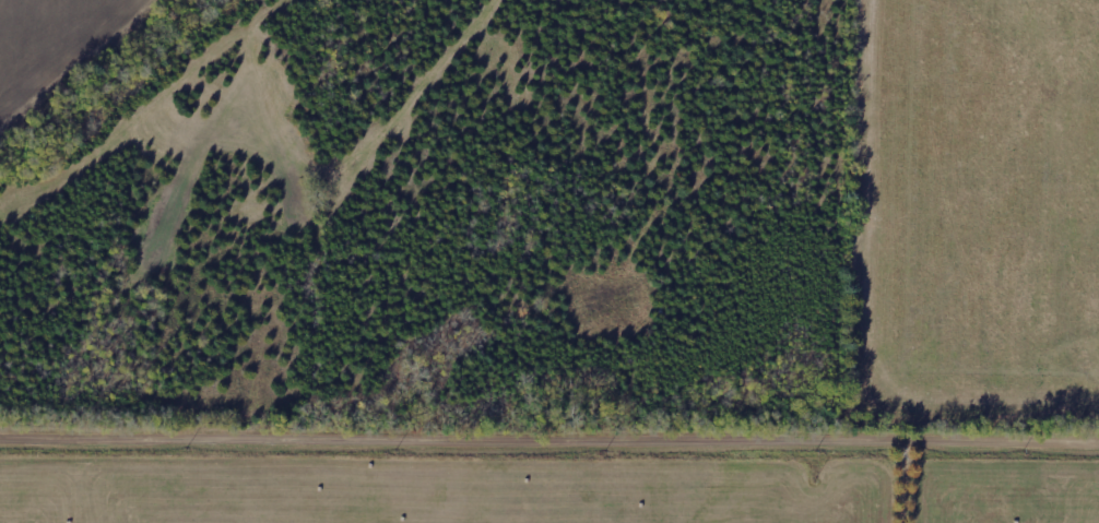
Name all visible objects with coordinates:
road: (549, 448)

